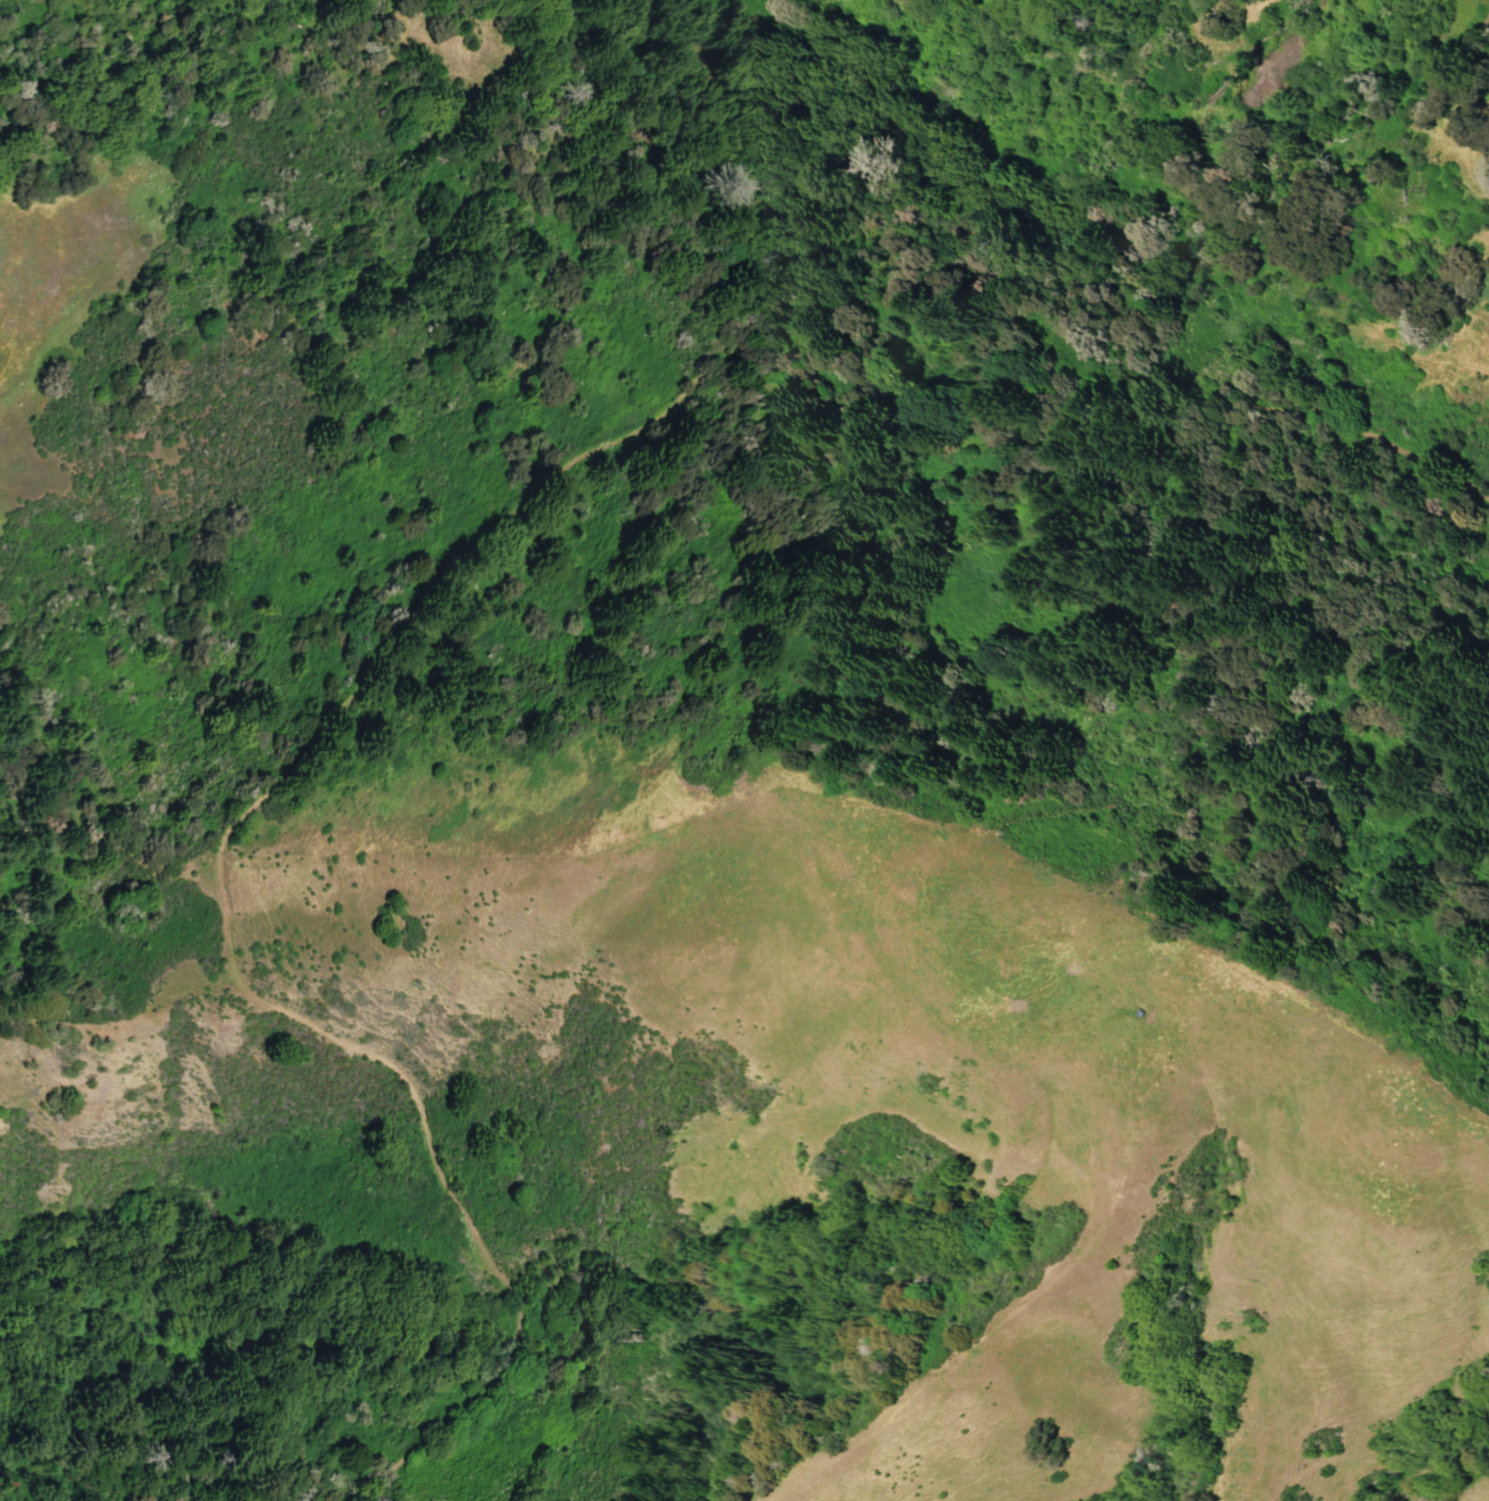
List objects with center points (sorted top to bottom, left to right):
road: (437, 643)

